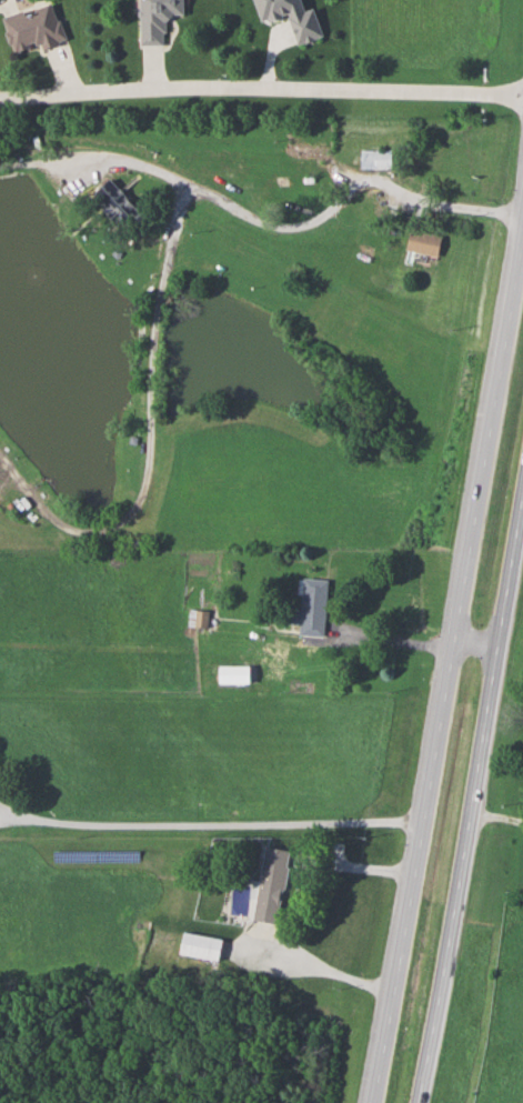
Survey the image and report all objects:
road: (4, 2)
building: (296, 17)
building: (161, 19)
building: (38, 28)
road: (261, 90)
building: (311, 150)
building: (379, 158)
road: (133, 163)
road: (36, 164)
road: (349, 192)
building: (117, 201)
building: (426, 241)
road: (149, 431)
building: (315, 605)
building: (198, 618)
road: (391, 641)
road: (476, 648)
road: (449, 672)
building: (238, 673)
road: (476, 796)
road: (499, 816)
road: (210, 826)
building: (278, 875)
building: (203, 944)
road: (249, 965)
road: (358, 983)

